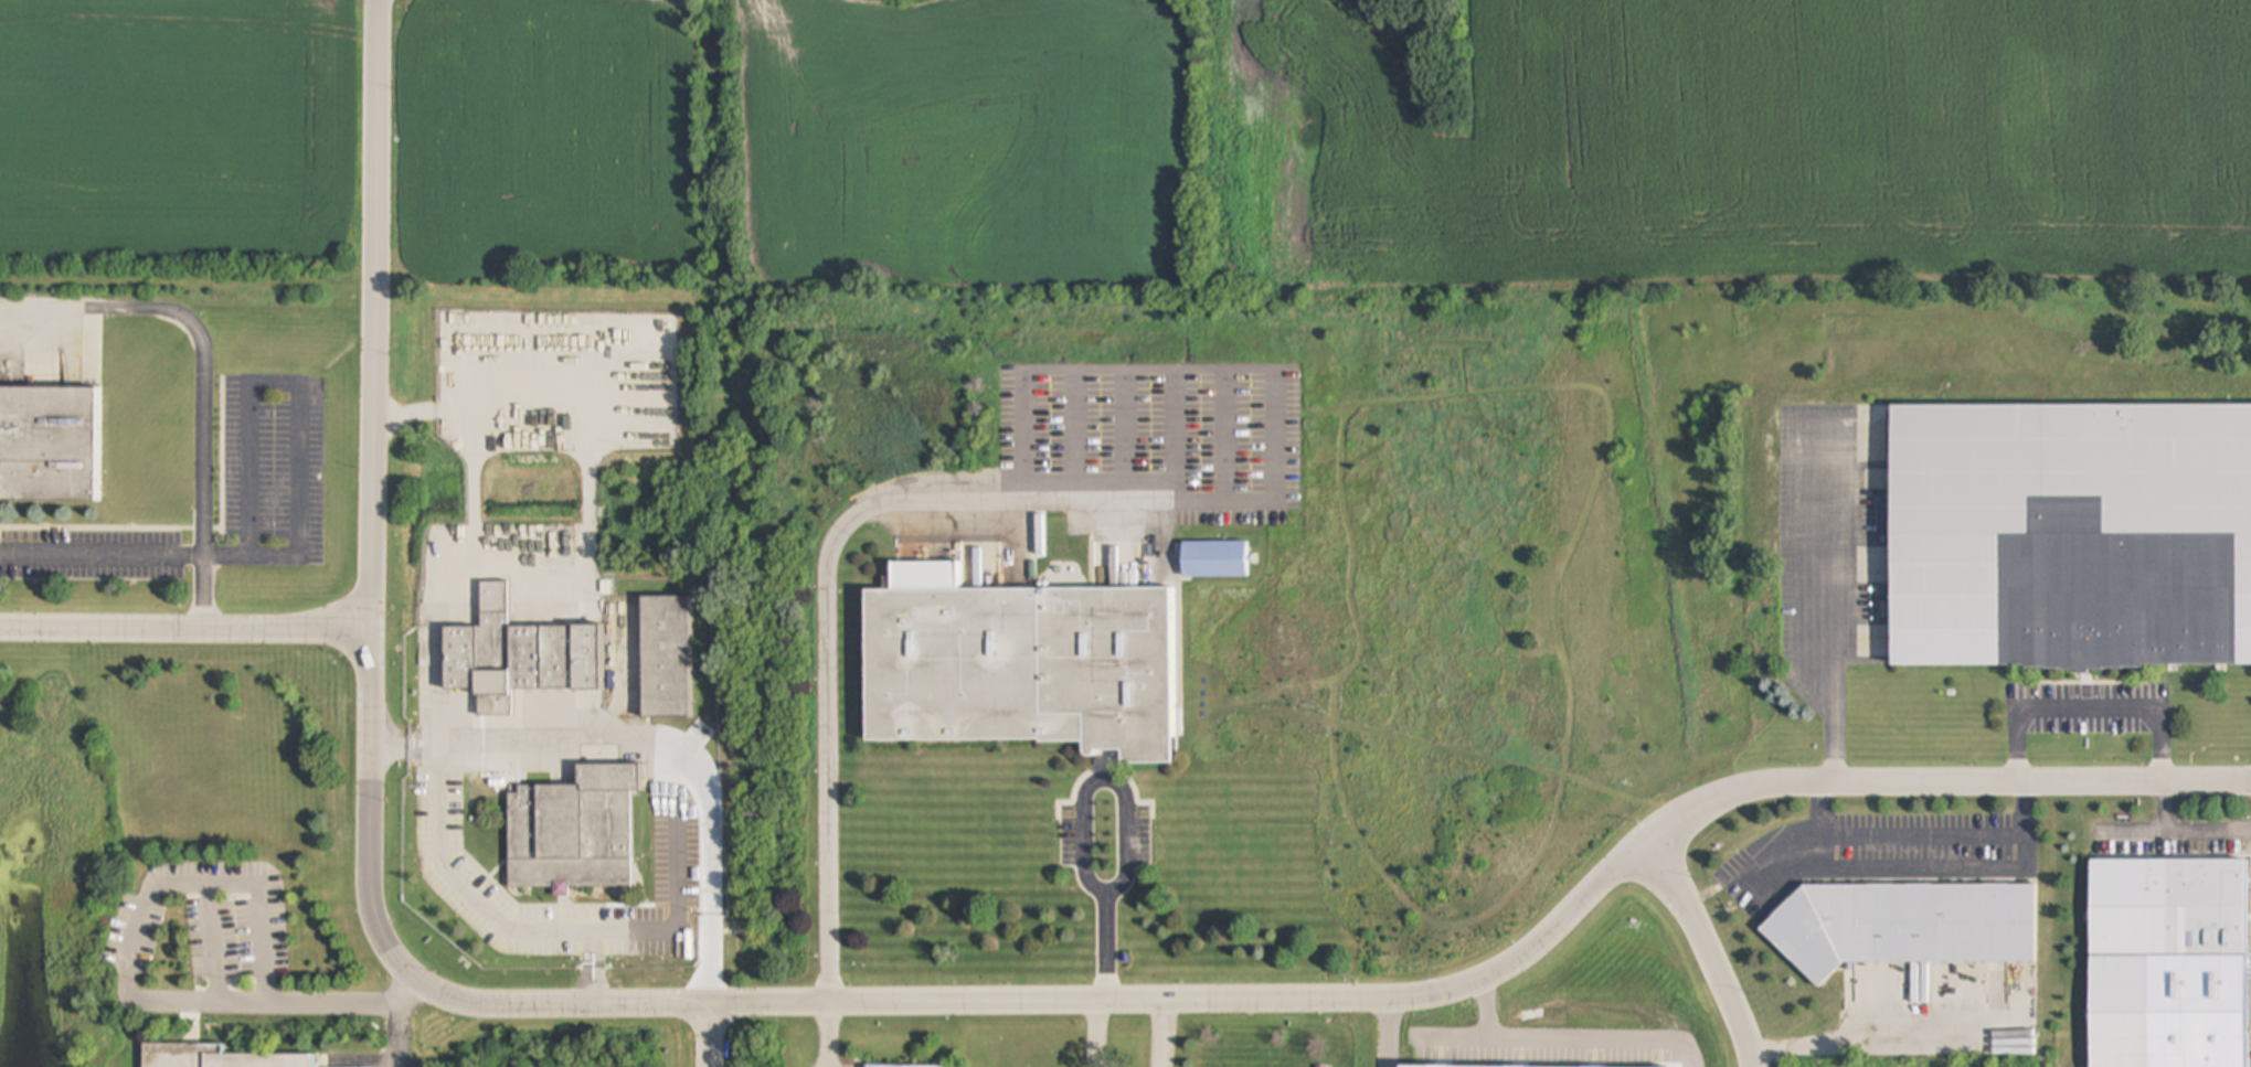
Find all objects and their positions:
road: (372, 313)
road: (193, 376)
road: (296, 383)
road: (415, 415)
building: (50, 444)
building: (2071, 536)
road: (124, 554)
building: (1214, 559)
road: (822, 572)
road: (449, 586)
road: (1830, 609)
road: (183, 628)
building: (518, 657)
building: (667, 658)
building: (1020, 665)
road: (2087, 706)
road: (1965, 781)
road: (1085, 821)
road: (2189, 829)
road: (1663, 830)
building: (573, 831)
road: (1925, 835)
road: (365, 868)
road: (458, 889)
building: (2206, 911)
building: (1905, 927)
road: (1709, 950)
road: (121, 983)
road: (1109, 1001)
road: (1483, 1009)
road: (1389, 1032)
road: (1097, 1034)
road: (1159, 1034)
road: (395, 1035)
road: (710, 1035)
road: (826, 1035)
road: (1555, 1037)
road: (1886, 1038)
building: (216, 1057)
building: (879, 1066)

